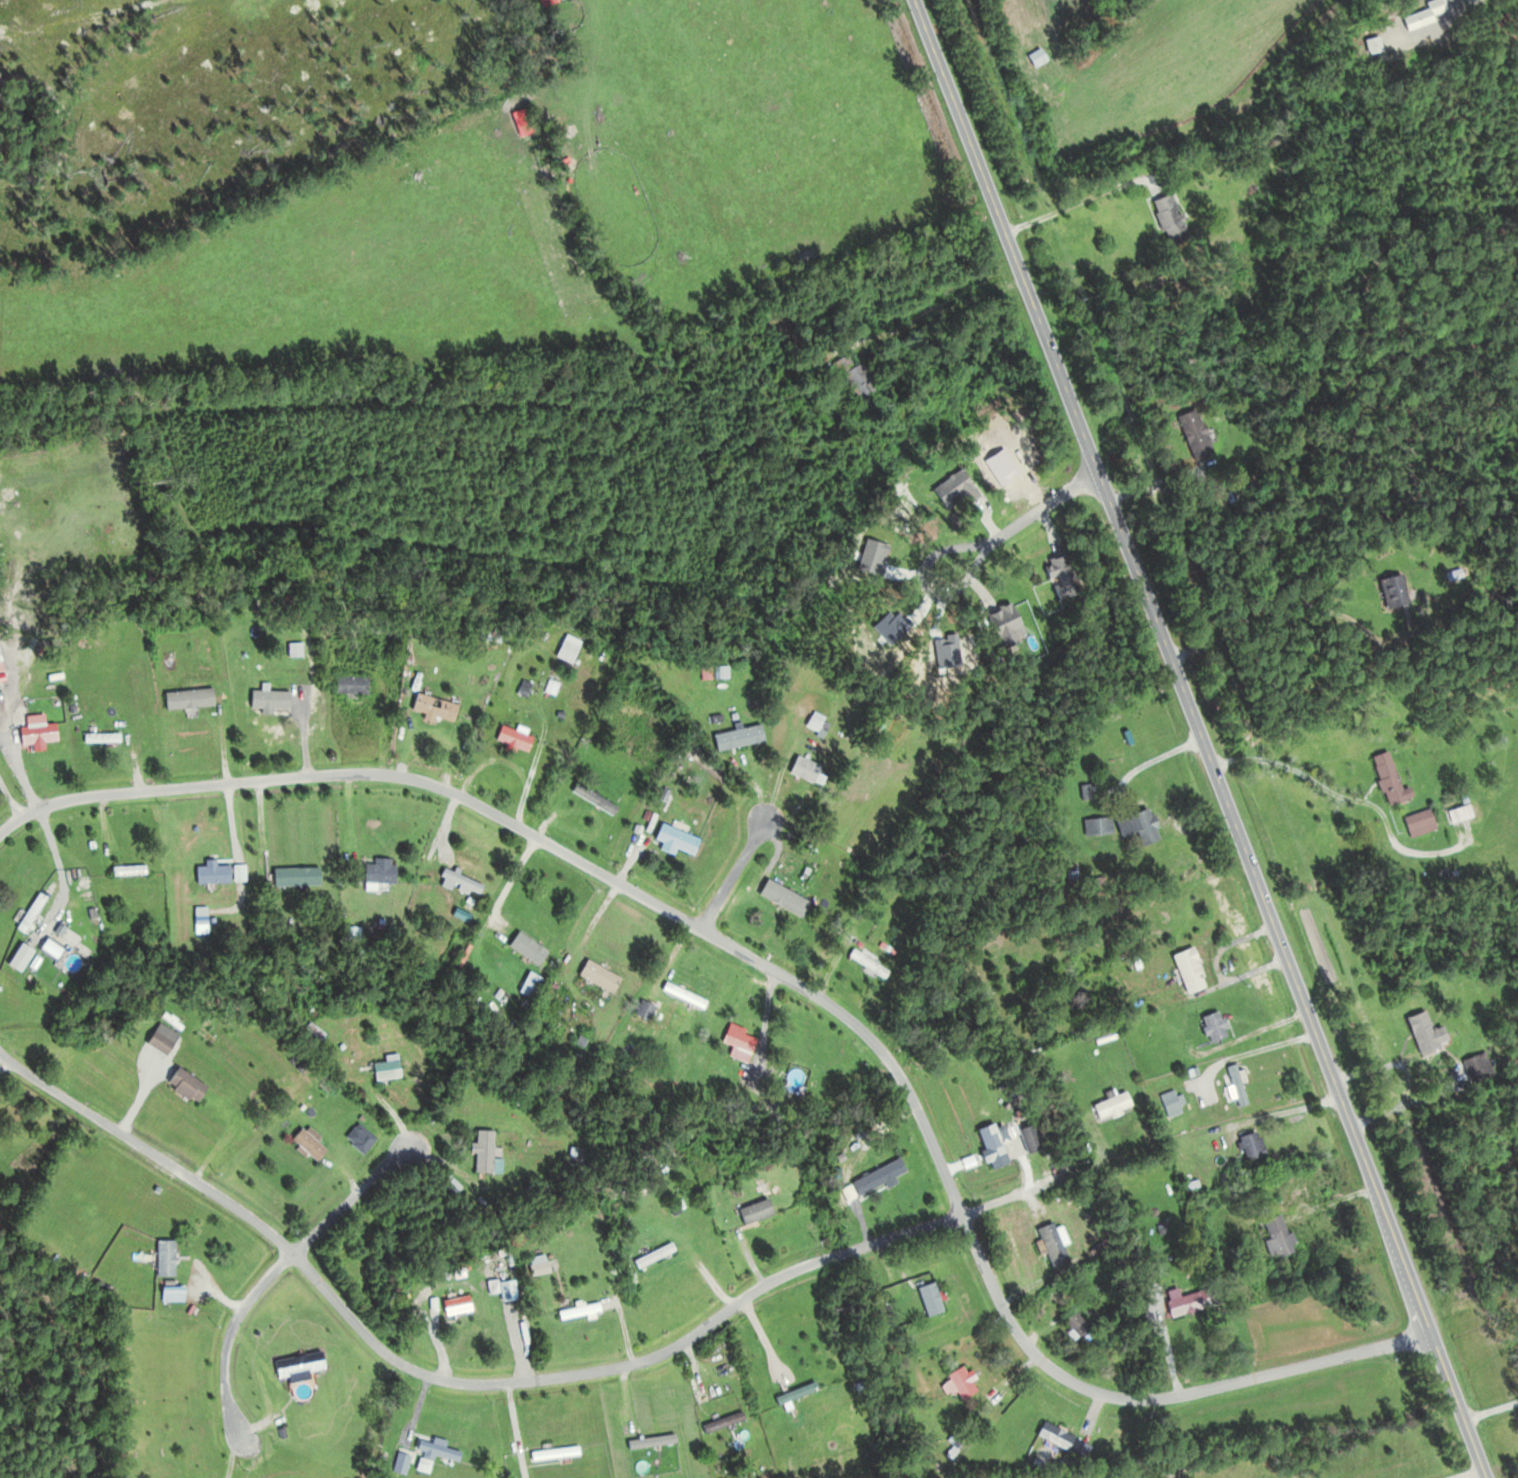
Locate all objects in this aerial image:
building: (552, 2)
building: (1421, 13)
building: (1369, 42)
building: (1045, 55)
building: (528, 120)
building: (1179, 218)
building: (867, 379)
building: (1201, 428)
building: (964, 490)
road: (1018, 536)
building: (1460, 573)
building: (1069, 576)
building: (1399, 591)
road: (1291, 605)
building: (1016, 622)
building: (301, 648)
building: (575, 648)
building: (726, 671)
building: (357, 683)
building: (274, 692)
building: (194, 697)
building: (440, 706)
building: (819, 720)
building: (43, 734)
building: (106, 736)
building: (745, 736)
building: (519, 737)
road: (1208, 738)
building: (812, 768)
building: (1395, 777)
building: (601, 798)
building: (1465, 813)
building: (1426, 822)
building: (1102, 825)
building: (1146, 825)
building: (681, 839)
road: (548, 842)
building: (136, 869)
building: (385, 871)
building: (218, 872)
road: (735, 875)
building: (302, 876)
building: (466, 880)
building: (37, 912)
building: (58, 948)
building: (532, 948)
building: (876, 963)
building: (1196, 969)
building: (606, 975)
building: (690, 994)
building: (651, 1012)
building: (1221, 1026)
building: (1434, 1033)
building: (748, 1037)
building: (166, 1041)
building: (393, 1067)
building: (1483, 1067)
building: (193, 1084)
building: (1241, 1084)
building: (1175, 1102)
building: (1119, 1104)
building: (1038, 1138)
building: (316, 1143)
building: (1000, 1145)
building: (1258, 1145)
building: (581, 1151)
building: (492, 1152)
building: (886, 1175)
road: (54, 1182)
road: (354, 1199)
building: (769, 1212)
building: (1284, 1236)
building: (1060, 1244)
building: (660, 1255)
building: (171, 1257)
building: (547, 1263)
building: (514, 1290)
building: (937, 1298)
building: (1195, 1303)
building: (463, 1305)
building: (585, 1311)
building: (1088, 1327)
road: (224, 1352)
building: (305, 1366)
road: (444, 1381)
building: (968, 1381)
building: (803, 1393)
road: (1152, 1401)
building: (729, 1421)
building: (1062, 1435)
building: (658, 1441)
building: (444, 1450)
building: (560, 1453)
building: (406, 1462)
building: (429, 1465)
road: (1468, 1472)

